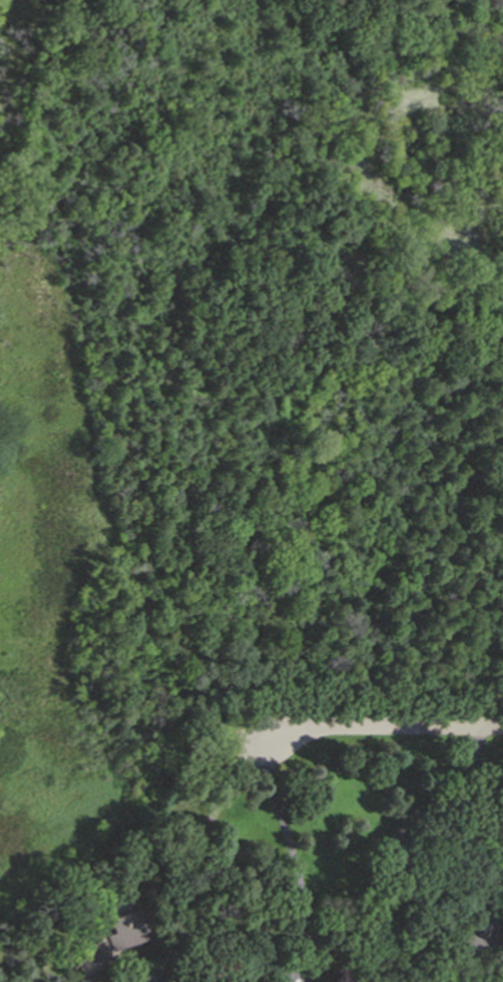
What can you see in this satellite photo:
road: (384, 725)
road: (479, 778)
building: (390, 844)
road: (494, 848)
road: (199, 852)
road: (475, 881)
road: (297, 882)
building: (110, 940)
building: (475, 947)
building: (280, 972)

